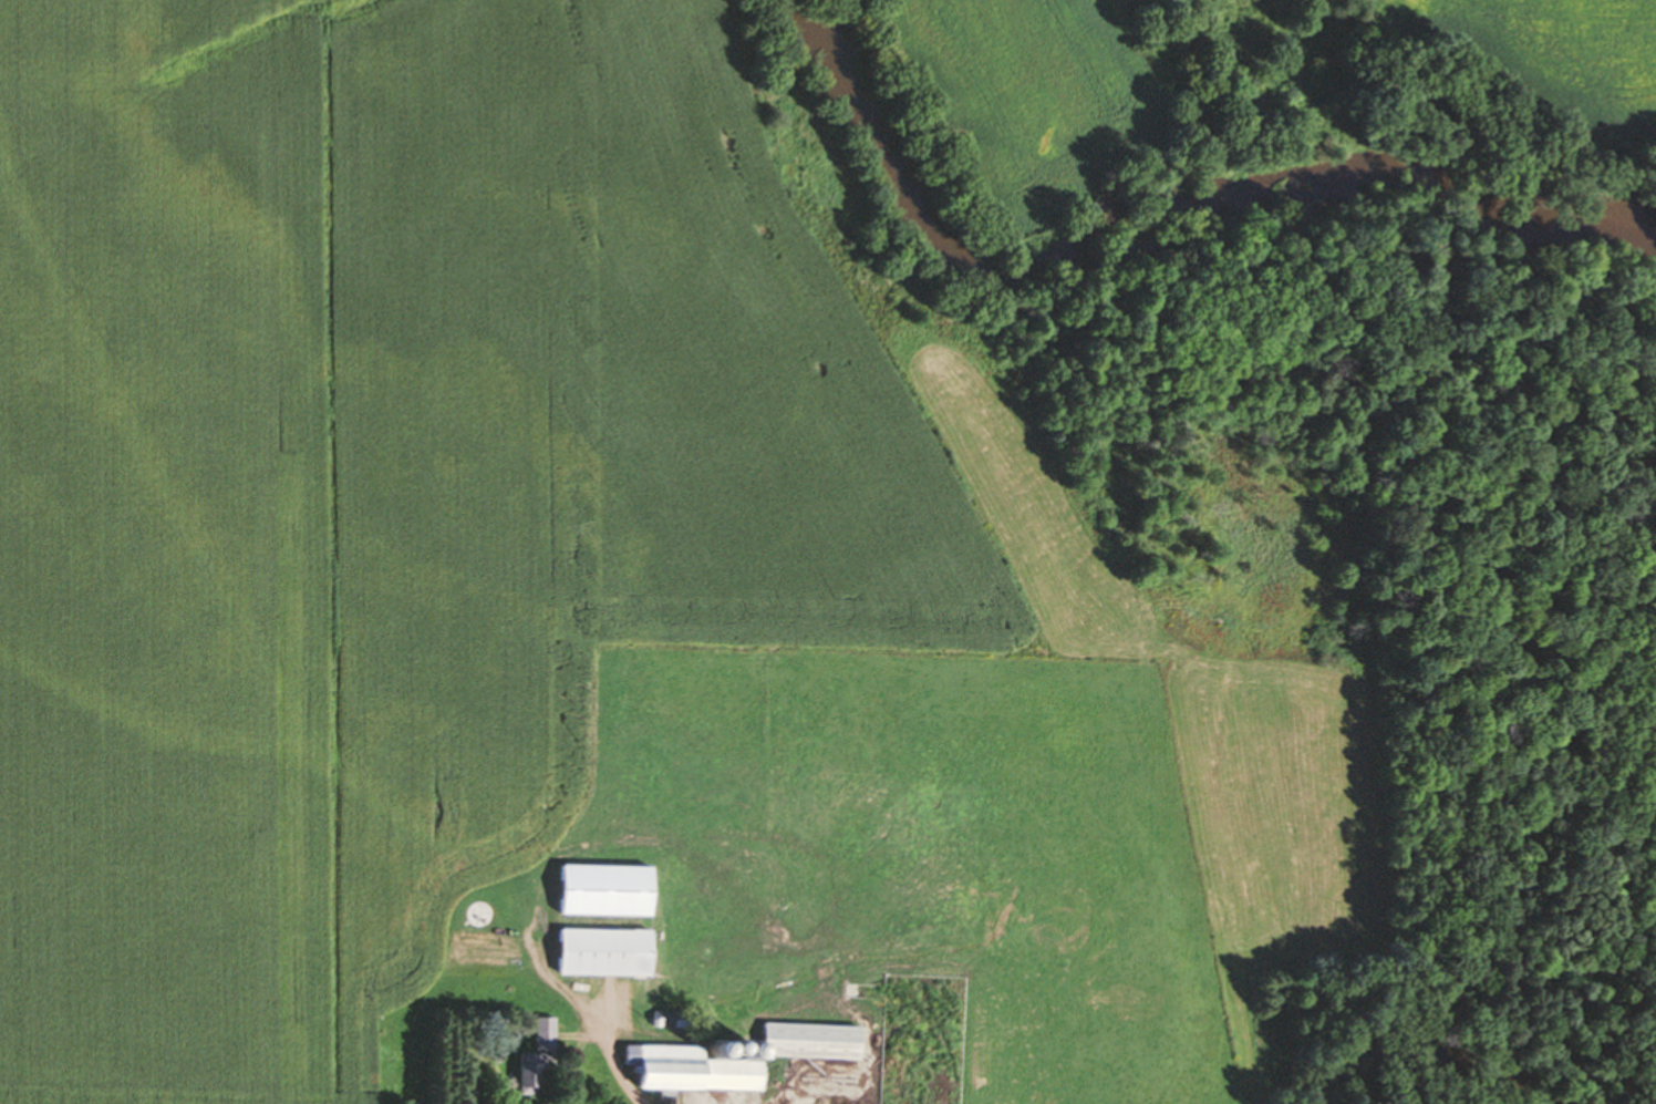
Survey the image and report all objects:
building: (608, 890)
building: (480, 915)
building: (607, 952)
building: (814, 1041)
building: (540, 1059)
building: (698, 1070)

